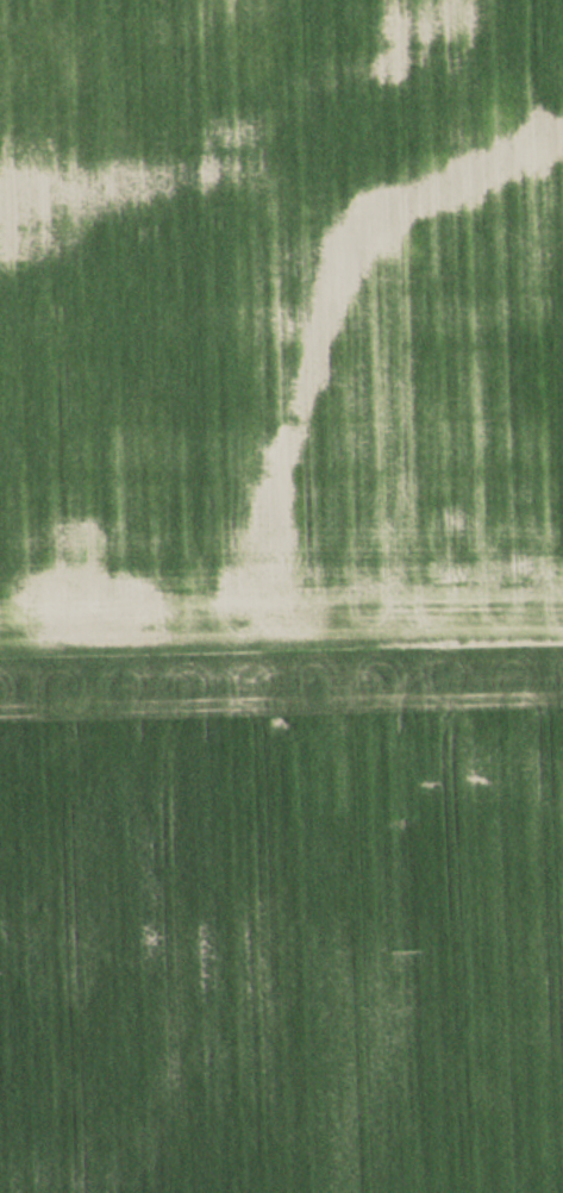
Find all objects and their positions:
crop: (281, 596)

